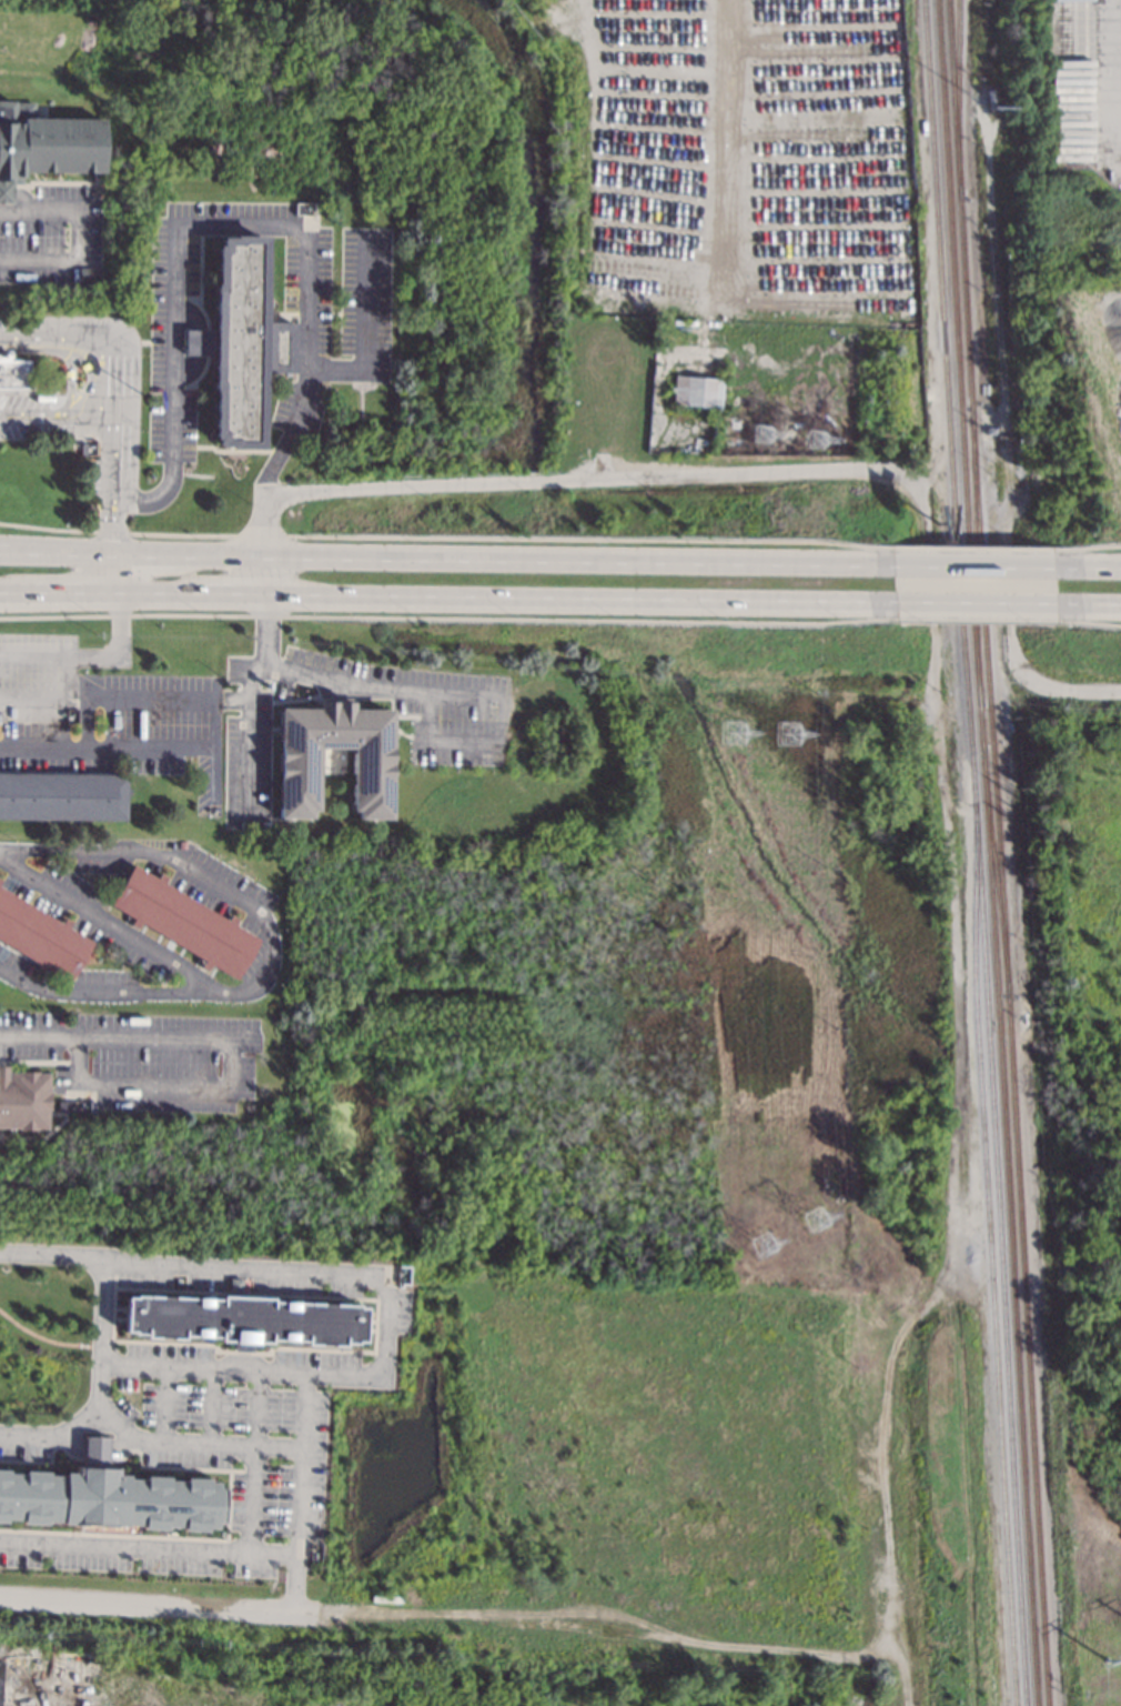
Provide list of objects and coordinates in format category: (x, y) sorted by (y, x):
building: (990, 94)
railway: (957, 99)
building: (44, 144)
road: (709, 182)
railway: (960, 203)
building: (296, 208)
road: (213, 224)
road: (77, 239)
building: (90, 273)
road: (364, 328)
road: (90, 337)
building: (239, 342)
parking lot: (347, 343)
road: (70, 352)
railway: (958, 352)
building: (881, 368)
building: (602, 369)
road: (90, 370)
building: (12, 372)
building: (698, 390)
road: (54, 417)
power tower: (764, 433)
power tower: (817, 440)
building: (82, 448)
road: (1009, 448)
road: (558, 480)
road: (109, 506)
railway: (976, 555)
road: (445, 556)
road: (970, 566)
road: (1085, 568)
road: (3, 592)
road: (62, 593)
road: (159, 594)
road: (233, 594)
road: (578, 598)
road: (972, 602)
road: (1087, 603)
road: (265, 631)
road: (89, 655)
road: (319, 678)
building: (492, 693)
road: (33, 695)
road: (119, 696)
road: (450, 698)
railway: (989, 701)
road: (87, 721)
railway: (980, 725)
power tower: (735, 731)
parking lot: (107, 732)
power tower: (790, 733)
road: (149, 746)
road: (213, 779)
building: (296, 779)
building: (62, 795)
building: (182, 844)
railway: (974, 852)
road: (192, 871)
railway: (993, 871)
building: (0, 879)
parking lot: (226, 902)
building: (183, 920)
parking lot: (98, 923)
road: (111, 926)
building: (40, 935)
parking lot: (14, 963)
road: (109, 993)
road: (39, 1035)
parking lot: (140, 1058)
road: (233, 1091)
building: (23, 1098)
building: (60, 1105)
building: (90, 1105)
power tower: (817, 1220)
railway: (1008, 1225)
power tower: (764, 1244)
railway: (988, 1255)
building: (234, 1284)
road: (103, 1301)
building: (243, 1319)
road: (384, 1327)
railway: (1027, 1351)
road: (163, 1405)
road: (209, 1407)
road: (301, 1412)
parking lot: (229, 1418)
road: (80, 1419)
road: (30, 1435)
parking lot: (30, 1443)
road: (291, 1448)
road: (95, 1449)
building: (94, 1452)
road: (254, 1463)
building: (110, 1499)
road: (124, 1545)
road: (294, 1584)
road: (162, 1606)
building: (0, 1667)
power tower: (1108, 1667)

